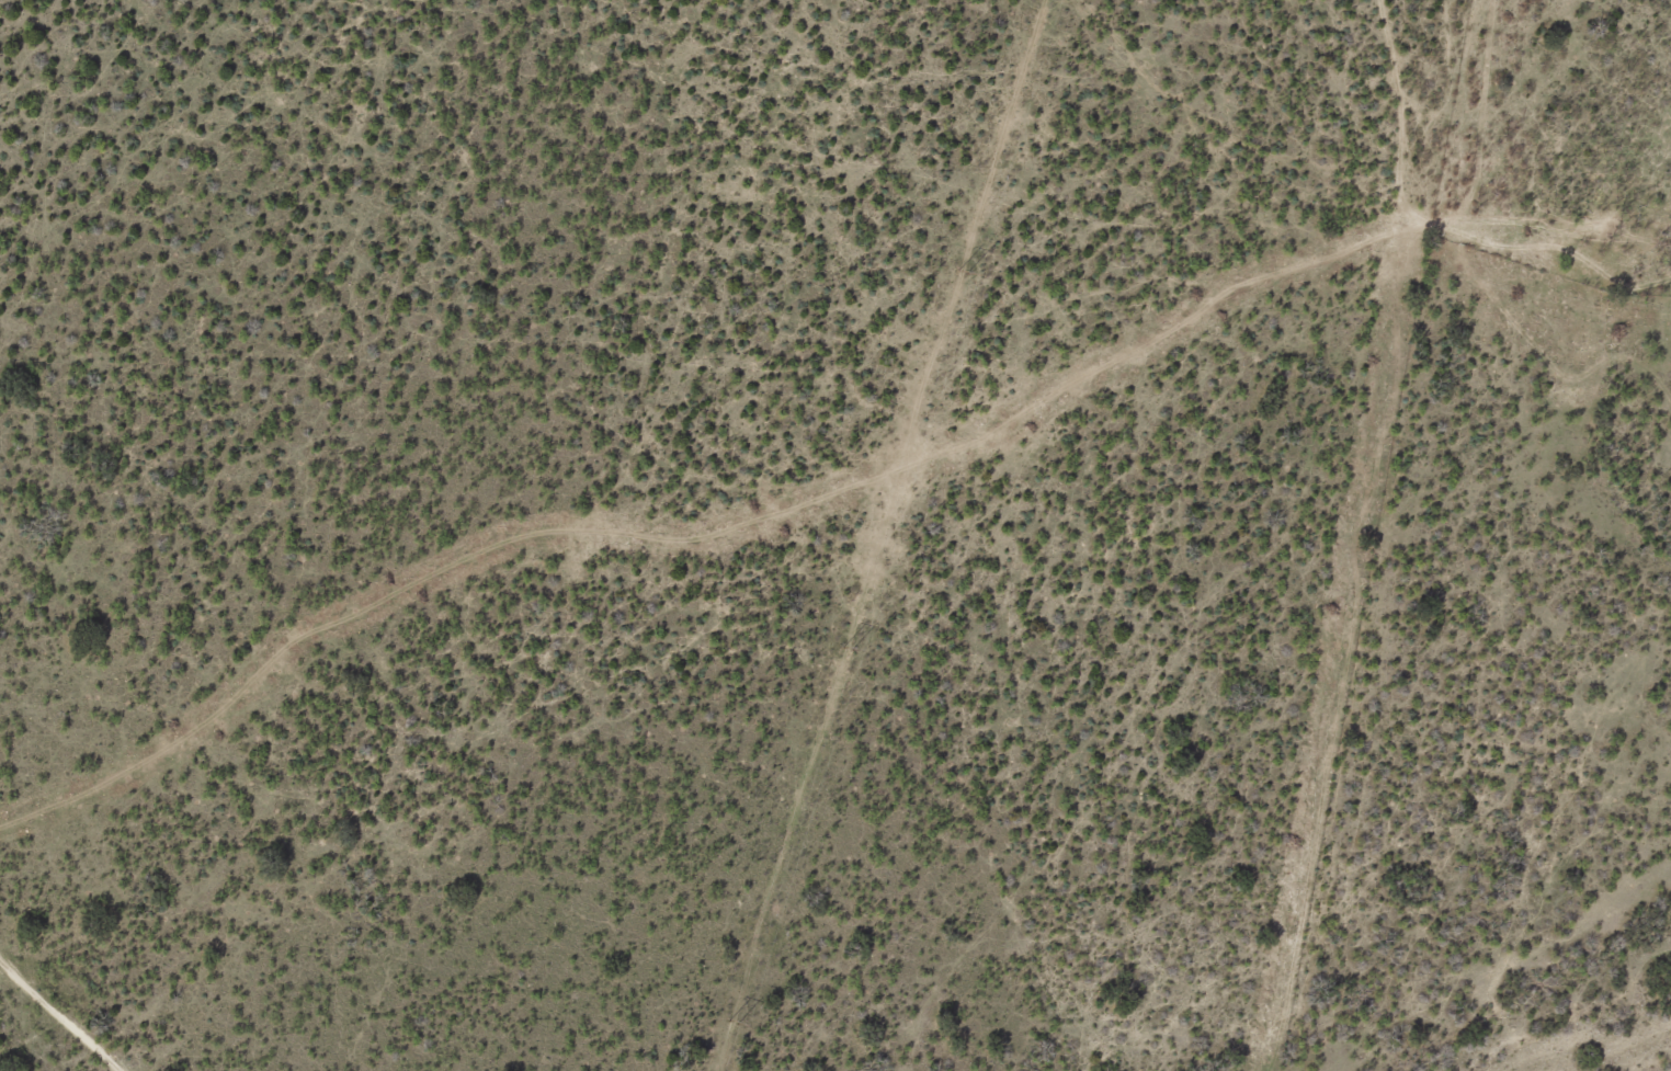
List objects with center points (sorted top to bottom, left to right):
road: (1532, 190)
road: (1373, 205)
power tower: (959, 270)
road: (604, 571)
power tower: (846, 647)
power tower: (732, 1021)
road: (33, 1038)

